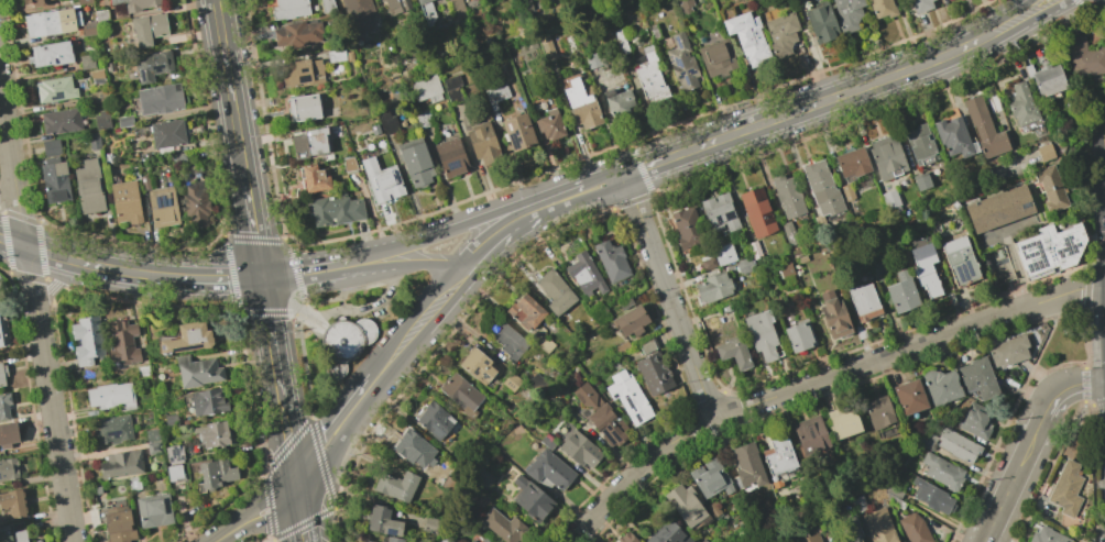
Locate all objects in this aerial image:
building: (85, 1)
building: (39, 2)
building: (138, 4)
building: (396, 5)
building: (685, 5)
building: (920, 5)
building: (327, 7)
building: (883, 8)
building: (288, 9)
building: (457, 9)
building: (357, 10)
building: (427, 12)
building: (847, 14)
building: (102, 15)
road: (1014, 16)
road: (1031, 20)
building: (820, 22)
building: (57, 23)
building: (149, 29)
building: (780, 33)
building: (296, 34)
building: (747, 37)
building: (621, 42)
rooftop solar panel: (677, 42)
building: (545, 46)
building: (52, 54)
building: (336, 55)
building: (1084, 56)
building: (716, 57)
building: (87, 62)
building: (592, 62)
building: (681, 63)
rooftop solar panel: (680, 64)
building: (153, 66)
building: (302, 73)
rooftop solar panel: (690, 73)
rooftop solar panel: (681, 74)
building: (649, 77)
building: (1046, 79)
rooftop solar panel: (687, 80)
building: (56, 89)
building: (426, 89)
building: (452, 89)
road: (229, 91)
building: (496, 95)
building: (99, 97)
building: (161, 99)
building: (617, 101)
building: (1021, 104)
building: (581, 106)
building: (303, 108)
road: (1104, 112)
road: (788, 113)
building: (423, 118)
building: (102, 120)
building: (62, 121)
building: (125, 121)
building: (387, 122)
building: (549, 125)
building: (983, 128)
building: (374, 129)
building: (517, 132)
building: (168, 134)
building: (953, 137)
building: (95, 141)
building: (309, 141)
building: (482, 142)
building: (920, 144)
building: (52, 147)
building: (1047, 151)
building: (450, 157)
building: (886, 157)
building: (179, 158)
building: (415, 162)
building: (851, 163)
building: (348, 164)
road: (7, 177)
building: (314, 179)
building: (55, 180)
building: (381, 180)
building: (921, 181)
building: (145, 182)
building: (1052, 186)
building: (89, 187)
building: (821, 188)
building: (845, 192)
road: (573, 193)
building: (787, 196)
building: (889, 199)
rooftop solar panel: (156, 200)
rooftop solar panel: (163, 200)
building: (127, 202)
rooftop solar panel: (166, 202)
building: (197, 204)
building: (163, 206)
building: (336, 210)
building: (756, 211)
building: (719, 212)
building: (999, 212)
road: (466, 223)
road: (513, 226)
building: (686, 228)
road: (253, 231)
building: (788, 233)
building: (754, 250)
building: (1048, 250)
building: (723, 254)
building: (611, 261)
building: (960, 261)
road: (422, 264)
building: (708, 264)
road: (361, 265)
building: (744, 265)
power substation: (999, 265)
road: (88, 267)
building: (925, 268)
building: (784, 269)
building: (878, 270)
road: (1020, 272)
road: (306, 273)
building: (584, 274)
road: (220, 278)
traffic signals: (262, 278)
road: (56, 285)
building: (712, 288)
building: (555, 291)
building: (900, 292)
road: (668, 296)
building: (864, 301)
building: (624, 302)
road: (293, 305)
road: (368, 307)
building: (723, 308)
building: (525, 311)
building: (833, 316)
road: (36, 318)
building: (628, 321)
road: (423, 323)
building: (2, 330)
road: (271, 334)
building: (761, 334)
building: (798, 335)
building: (186, 338)
building: (86, 340)
building: (506, 340)
building: (122, 342)
building: (347, 343)
park: (1063, 343)
building: (545, 345)
building: (645, 345)
road: (1043, 345)
building: (1008, 351)
building: (733, 352)
rooftop solar panel: (485, 363)
building: (475, 366)
building: (142, 370)
building: (196, 370)
rooftop solar panel: (475, 372)
building: (653, 373)
building: (2, 375)
rooftop solar panel: (484, 376)
building: (977, 378)
road: (819, 379)
building: (511, 380)
building: (535, 381)
building: (940, 386)
road: (1068, 388)
building: (459, 391)
building: (109, 396)
building: (627, 397)
building: (909, 397)
building: (206, 401)
building: (3, 406)
building: (878, 412)
building: (601, 416)
road: (331, 419)
building: (169, 420)
building: (434, 420)
building: (842, 422)
building: (975, 422)
road: (286, 427)
building: (112, 430)
building: (8, 433)
building: (214, 434)
building: (809, 434)
building: (152, 435)
building: (546, 441)
road: (342, 443)
building: (956, 445)
building: (154, 447)
building: (413, 449)
building: (579, 449)
rooftop solar panel: (182, 450)
rooftop solar panel: (175, 452)
rooftop solar panel: (168, 453)
building: (174, 453)
building: (778, 456)
rooftop solar panel: (180, 458)
rooftop solar panel: (169, 460)
traffic signals: (293, 463)
building: (120, 464)
building: (747, 465)
building: (8, 468)
building: (549, 468)
building: (174, 472)
building: (942, 472)
building: (214, 474)
building: (710, 478)
road: (1014, 478)
road: (295, 479)
building: (133, 483)
building: (447, 484)
building: (395, 485)
building: (1065, 488)
building: (890, 489)
traffic signals: (298, 496)
building: (931, 496)
road: (258, 497)
building: (529, 498)
building: (895, 501)
building: (12, 502)
building: (857, 504)
building: (685, 505)
building: (714, 508)
building: (153, 510)
road: (302, 518)
building: (382, 521)
road: (265, 522)
building: (118, 524)
building: (430, 524)
building: (503, 526)
building: (878, 526)
building: (913, 529)
building: (843, 531)
building: (18, 532)
building: (667, 533)
building: (4, 535)
building: (1047, 535)
road: (218, 538)
building: (626, 538)
building: (809, 538)
building: (393, 540)
building: (444, 540)
building: (484, 540)
building: (365, 541)
building: (381, 541)
building: (466, 541)
building: (472, 541)

